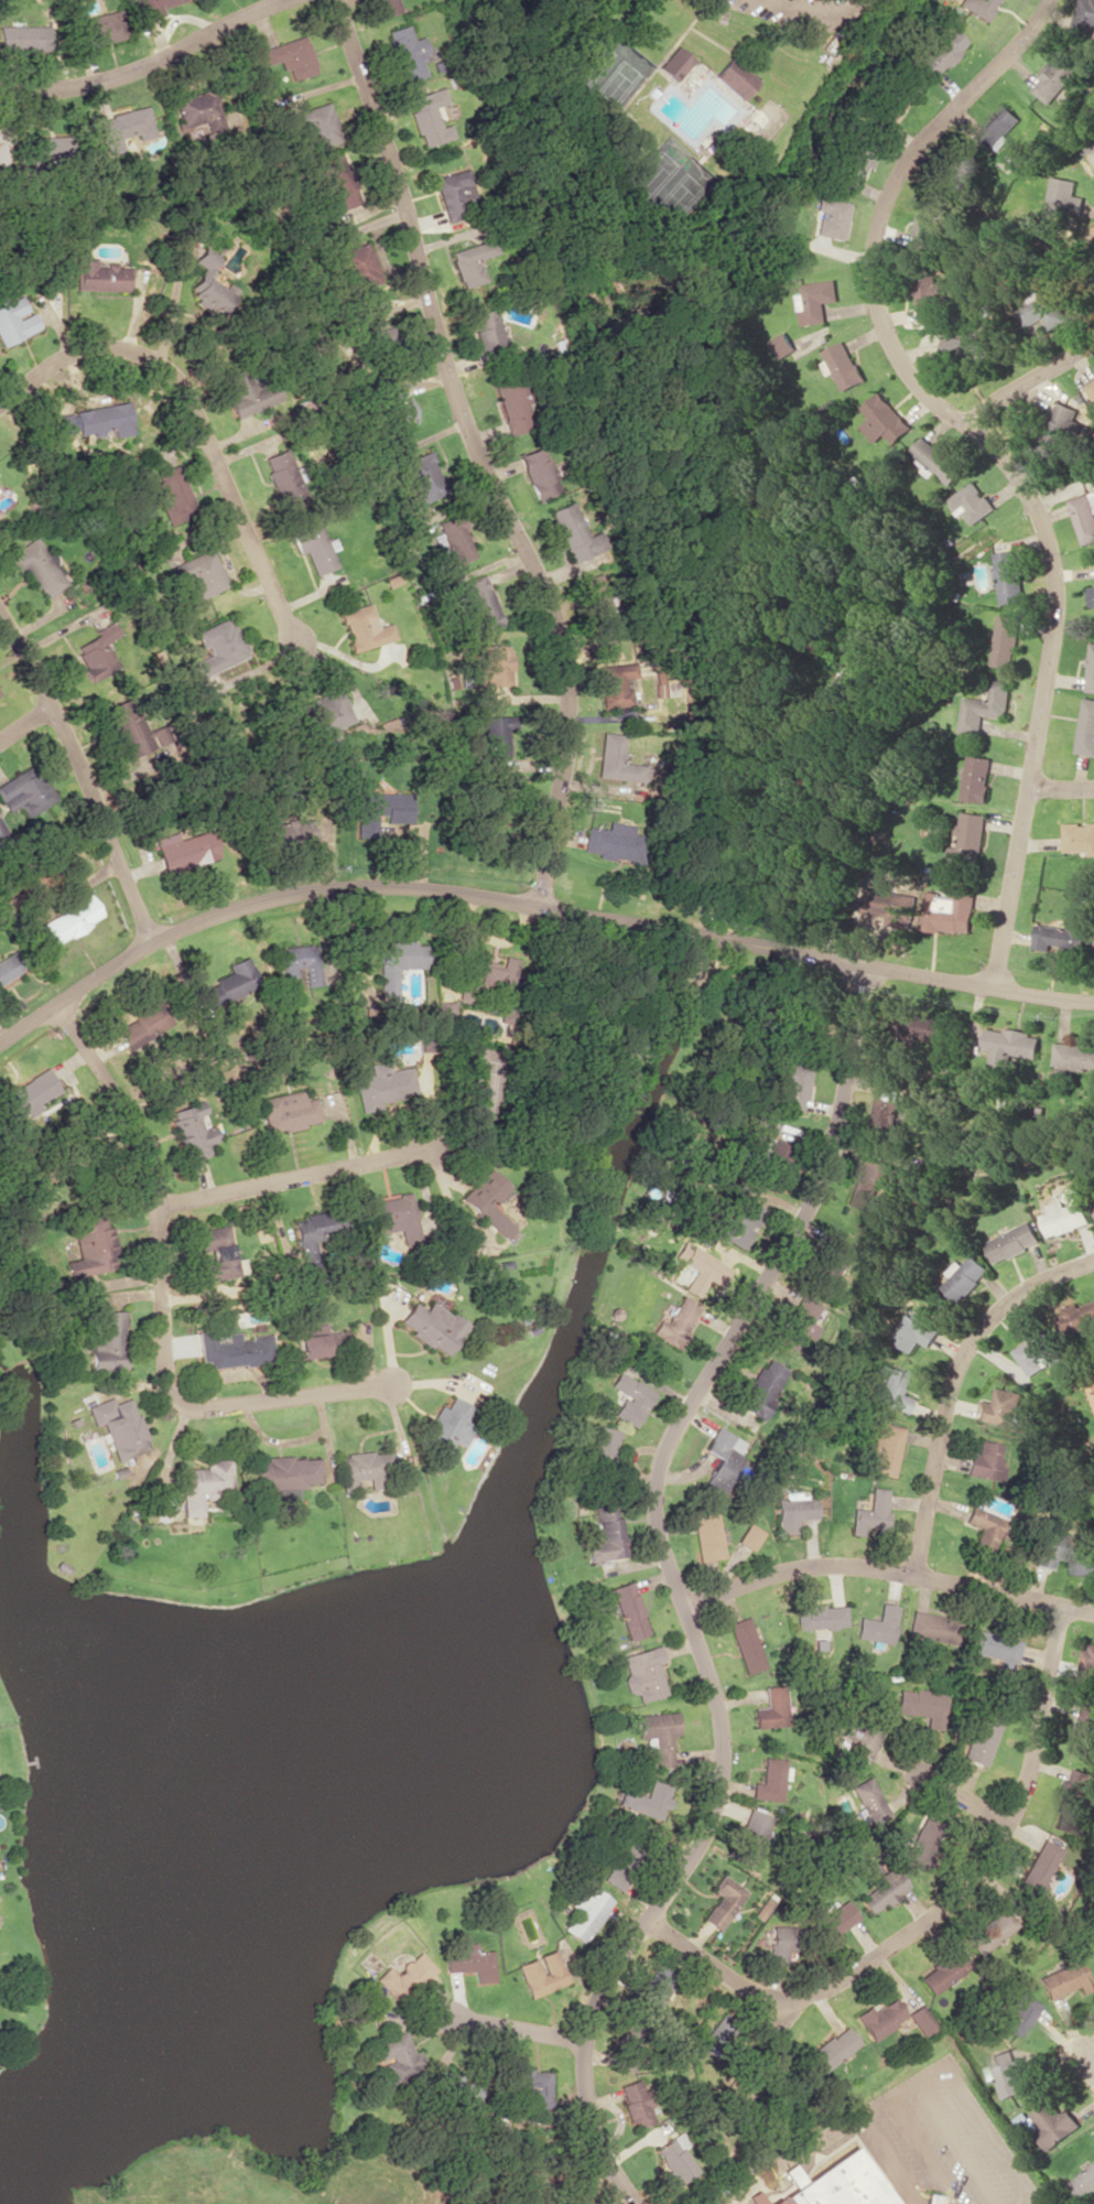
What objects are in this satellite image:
building: (383, 7)
building: (152, 8)
building: (977, 8)
building: (1087, 12)
building: (100, 29)
building: (23, 37)
building: (405, 52)
building: (939, 52)
building: (290, 56)
road: (148, 62)
building: (674, 63)
building: (734, 77)
building: (1057, 77)
building: (892, 102)
building: (193, 109)
building: (426, 117)
building: (1000, 122)
building: (315, 125)
building: (124, 128)
building: (3, 142)
building: (1087, 143)
building: (50, 149)
building: (853, 168)
building: (958, 173)
building: (334, 180)
building: (454, 194)
building: (1063, 197)
building: (830, 217)
building: (928, 227)
building: (469, 261)
building: (1093, 269)
building: (98, 275)
building: (206, 283)
building: (928, 295)
building: (816, 300)
building: (1041, 311)
building: (14, 320)
building: (485, 328)
building: (372, 332)
building: (968, 349)
building: (844, 365)
road: (1028, 381)
building: (1091, 387)
building: (249, 391)
building: (511, 403)
building: (393, 407)
road: (195, 415)
building: (884, 419)
building: (101, 421)
building: (62, 423)
building: (1062, 423)
road: (993, 452)
road: (475, 453)
building: (935, 460)
building: (538, 473)
building: (281, 476)
building: (423, 477)
building: (171, 495)
building: (971, 503)
building: (1084, 516)
building: (452, 540)
building: (312, 545)
building: (35, 566)
building: (197, 575)
building: (1008, 576)
building: (1092, 595)
building: (592, 599)
building: (479, 604)
building: (361, 627)
building: (1006, 639)
building: (217, 648)
building: (96, 652)
building: (490, 666)
building: (1091, 668)
building: (614, 684)
building: (985, 704)
building: (326, 712)
road: (23, 720)
building: (128, 726)
building: (1086, 727)
building: (492, 741)
building: (616, 760)
building: (976, 778)
road: (79, 779)
road: (1061, 787)
building: (23, 791)
building: (379, 810)
building: (284, 830)
building: (1077, 836)
building: (966, 840)
building: (613, 842)
building: (2, 845)
building: (185, 850)
road: (530, 906)
building: (893, 908)
building: (949, 910)
building: (71, 919)
building: (1059, 936)
building: (401, 954)
building: (300, 962)
building: (10, 965)
building: (231, 982)
building: (490, 982)
building: (388, 986)
building: (444, 1016)
building: (142, 1024)
building: (805, 1034)
building: (1010, 1045)
building: (1074, 1055)
building: (381, 1084)
building: (792, 1084)
building: (28, 1093)
building: (886, 1108)
building: (286, 1111)
building: (192, 1130)
building: (776, 1158)
road: (293, 1176)
building: (870, 1181)
building: (1092, 1198)
building: (487, 1201)
building: (393, 1217)
building: (1064, 1217)
building: (737, 1219)
building: (316, 1230)
building: (1012, 1241)
building: (90, 1244)
building: (216, 1252)
building: (830, 1263)
building: (703, 1271)
building: (965, 1276)
road: (160, 1299)
building: (676, 1318)
building: (798, 1324)
building: (432, 1325)
building: (914, 1332)
building: (107, 1342)
building: (315, 1343)
building: (234, 1349)
building: (1038, 1351)
road: (949, 1382)
building: (759, 1389)
building: (891, 1389)
building: (629, 1397)
building: (999, 1407)
building: (118, 1426)
building: (446, 1426)
building: (600, 1445)
building: (885, 1449)
building: (723, 1458)
building: (986, 1460)
building: (360, 1469)
building: (285, 1473)
building: (203, 1483)
building: (873, 1513)
building: (789, 1517)
building: (984, 1524)
building: (706, 1533)
building: (606, 1534)
building: (749, 1536)
building: (1053, 1545)
building: (1083, 1564)
road: (885, 1571)
road: (674, 1588)
building: (628, 1610)
building: (820, 1617)
building: (878, 1624)
building: (934, 1628)
building: (745, 1645)
building: (995, 1649)
building: (1087, 1664)
building: (642, 1672)
building: (771, 1708)
building: (1084, 1731)
building: (657, 1733)
building: (867, 1736)
building: (982, 1738)
building: (770, 1780)
road: (962, 1798)
building: (1071, 1800)
building: (868, 1801)
building: (647, 1802)
building: (749, 1836)
building: (922, 1841)
building: (624, 1863)
building: (1036, 1866)
building: (882, 1890)
building: (722, 1902)
road: (934, 1910)
building: (585, 1913)
building: (1093, 1913)
building: (836, 1919)
building: (988, 1930)
building: (775, 1943)
building: (468, 1960)
building: (941, 1970)
building: (540, 1974)
building: (402, 1976)
building: (1063, 1979)
building: (1016, 2012)
building: (879, 2018)
building: (919, 2020)
road: (517, 2027)
building: (633, 2034)
building: (723, 2036)
building: (831, 2050)
building: (397, 2055)
road: (1087, 2068)
building: (1007, 2072)
building: (532, 2088)
building: (633, 2103)
road: (985, 2120)
building: (1053, 2122)
road: (819, 2138)
road: (960, 2140)
road: (920, 2147)
road: (896, 2159)
building: (673, 2160)
building: (1084, 2182)
building: (835, 2183)
building: (756, 2197)
building: (931, 2198)
road: (955, 2200)
building: (775, 2201)

